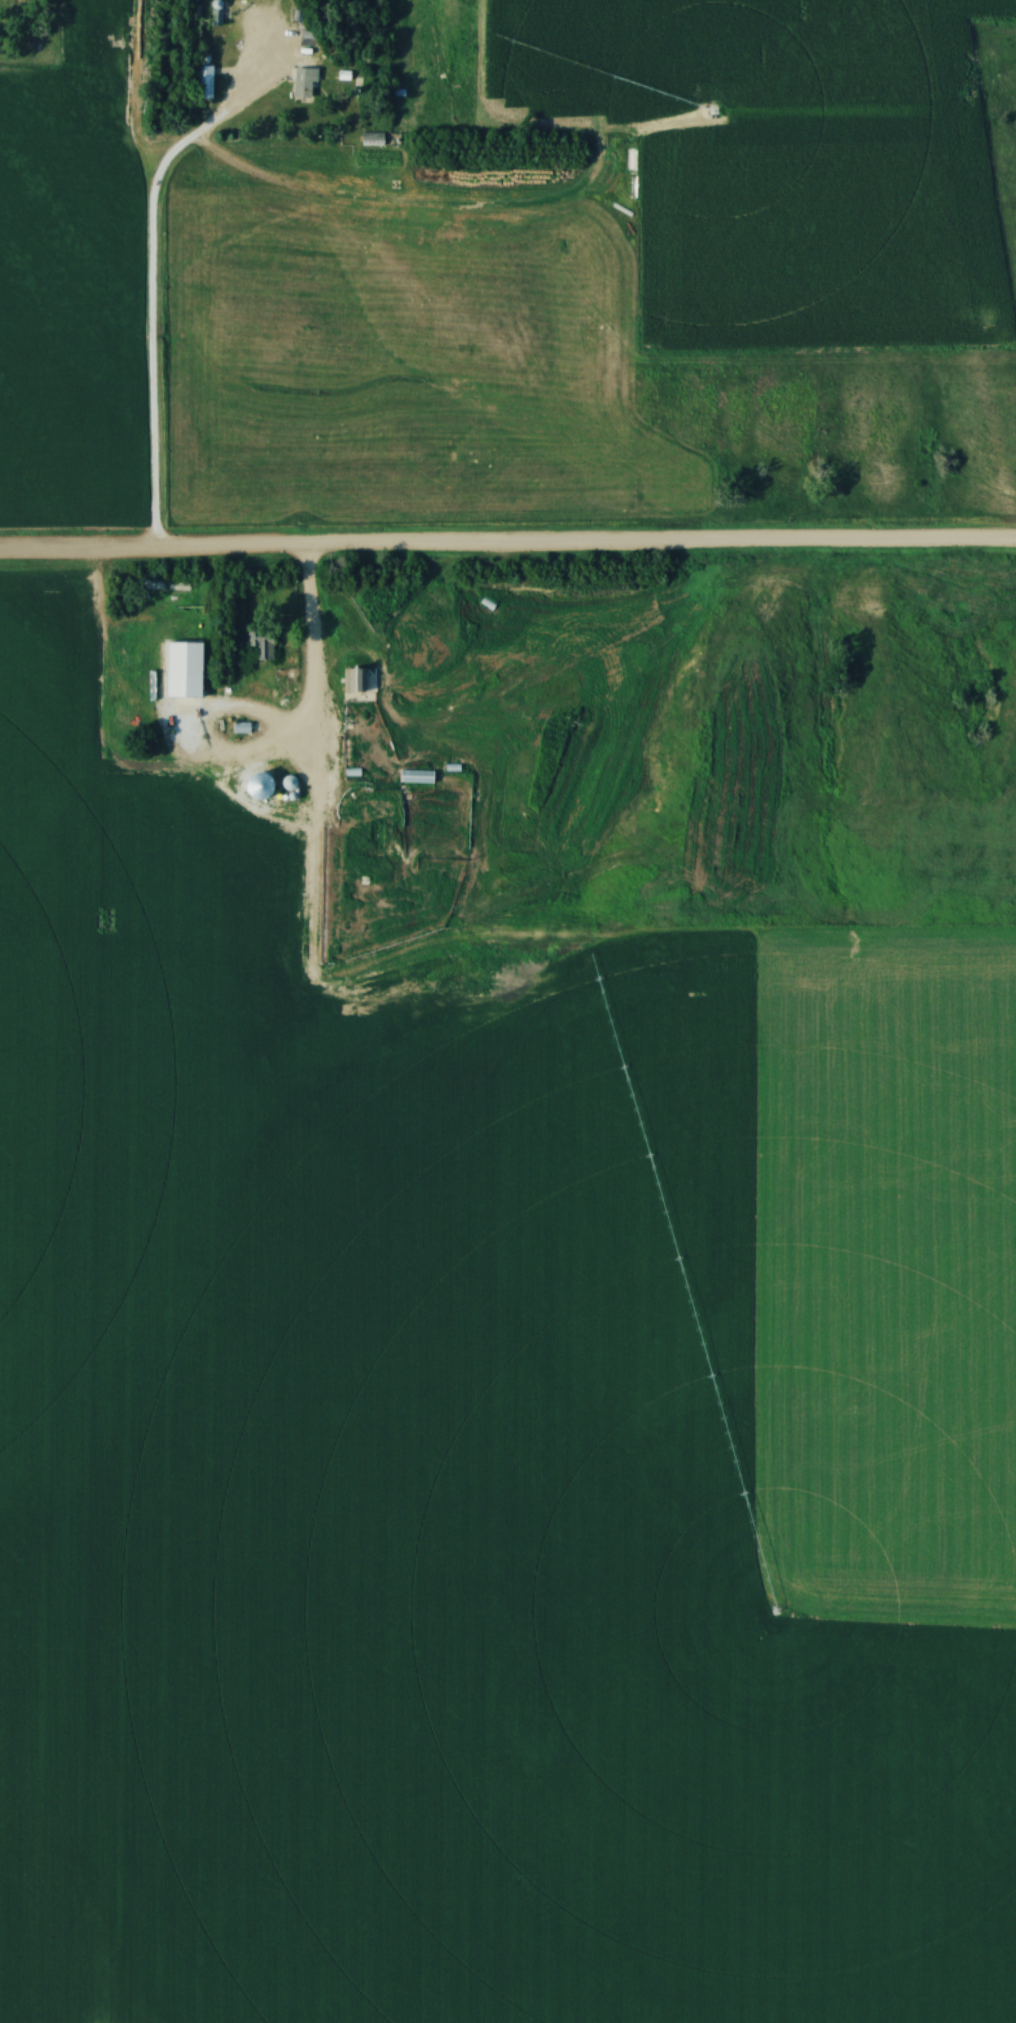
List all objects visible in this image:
building: (307, 38)
building: (205, 82)
building: (304, 82)
building: (372, 139)
road: (150, 299)
road: (507, 548)
building: (261, 643)
building: (352, 679)
building: (203, 688)
building: (416, 777)
building: (264, 787)

